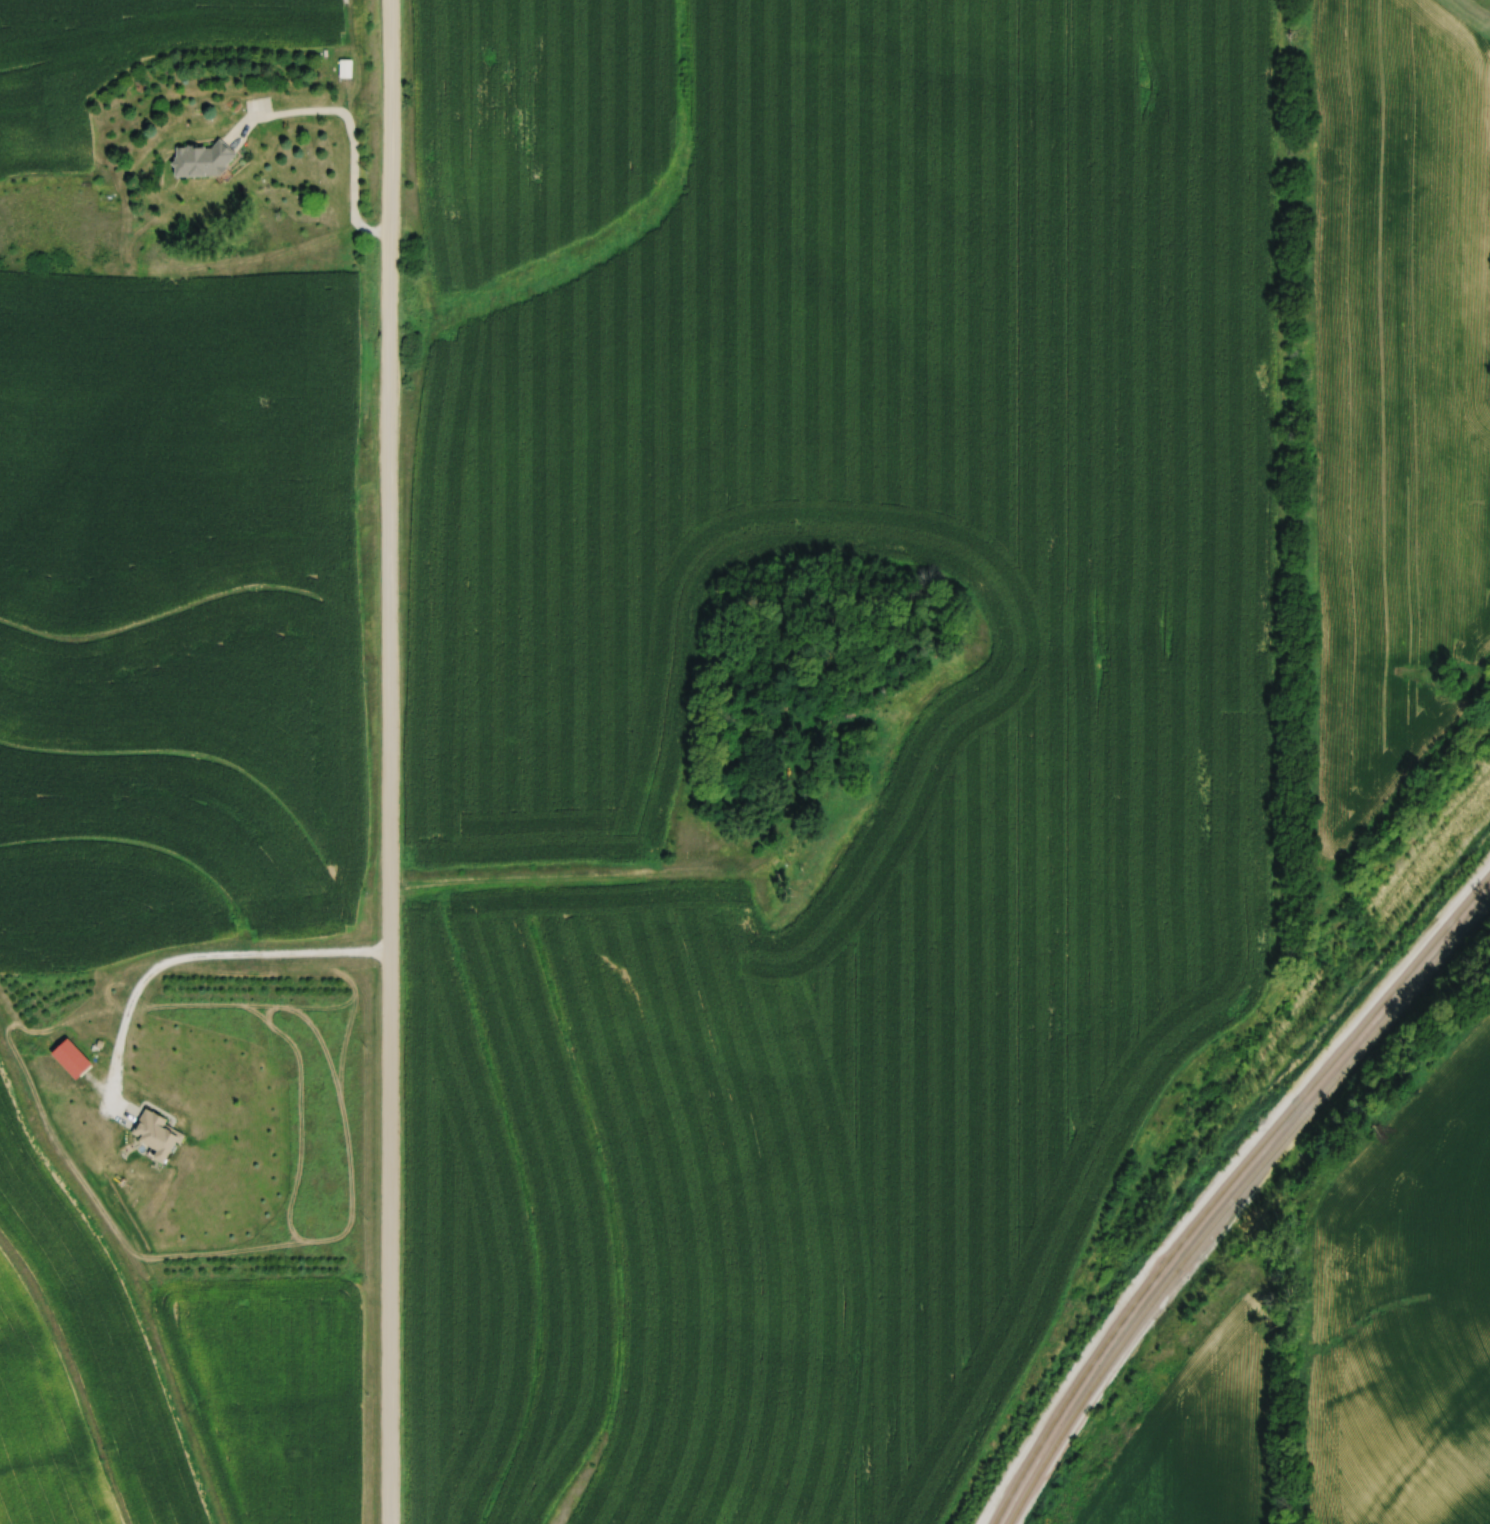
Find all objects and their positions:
building: (345, 68)
road: (352, 128)
building: (202, 161)
road: (389, 761)
road: (571, 876)
road: (200, 950)
building: (154, 1137)
railway: (1226, 1192)
railway: (1234, 1202)

